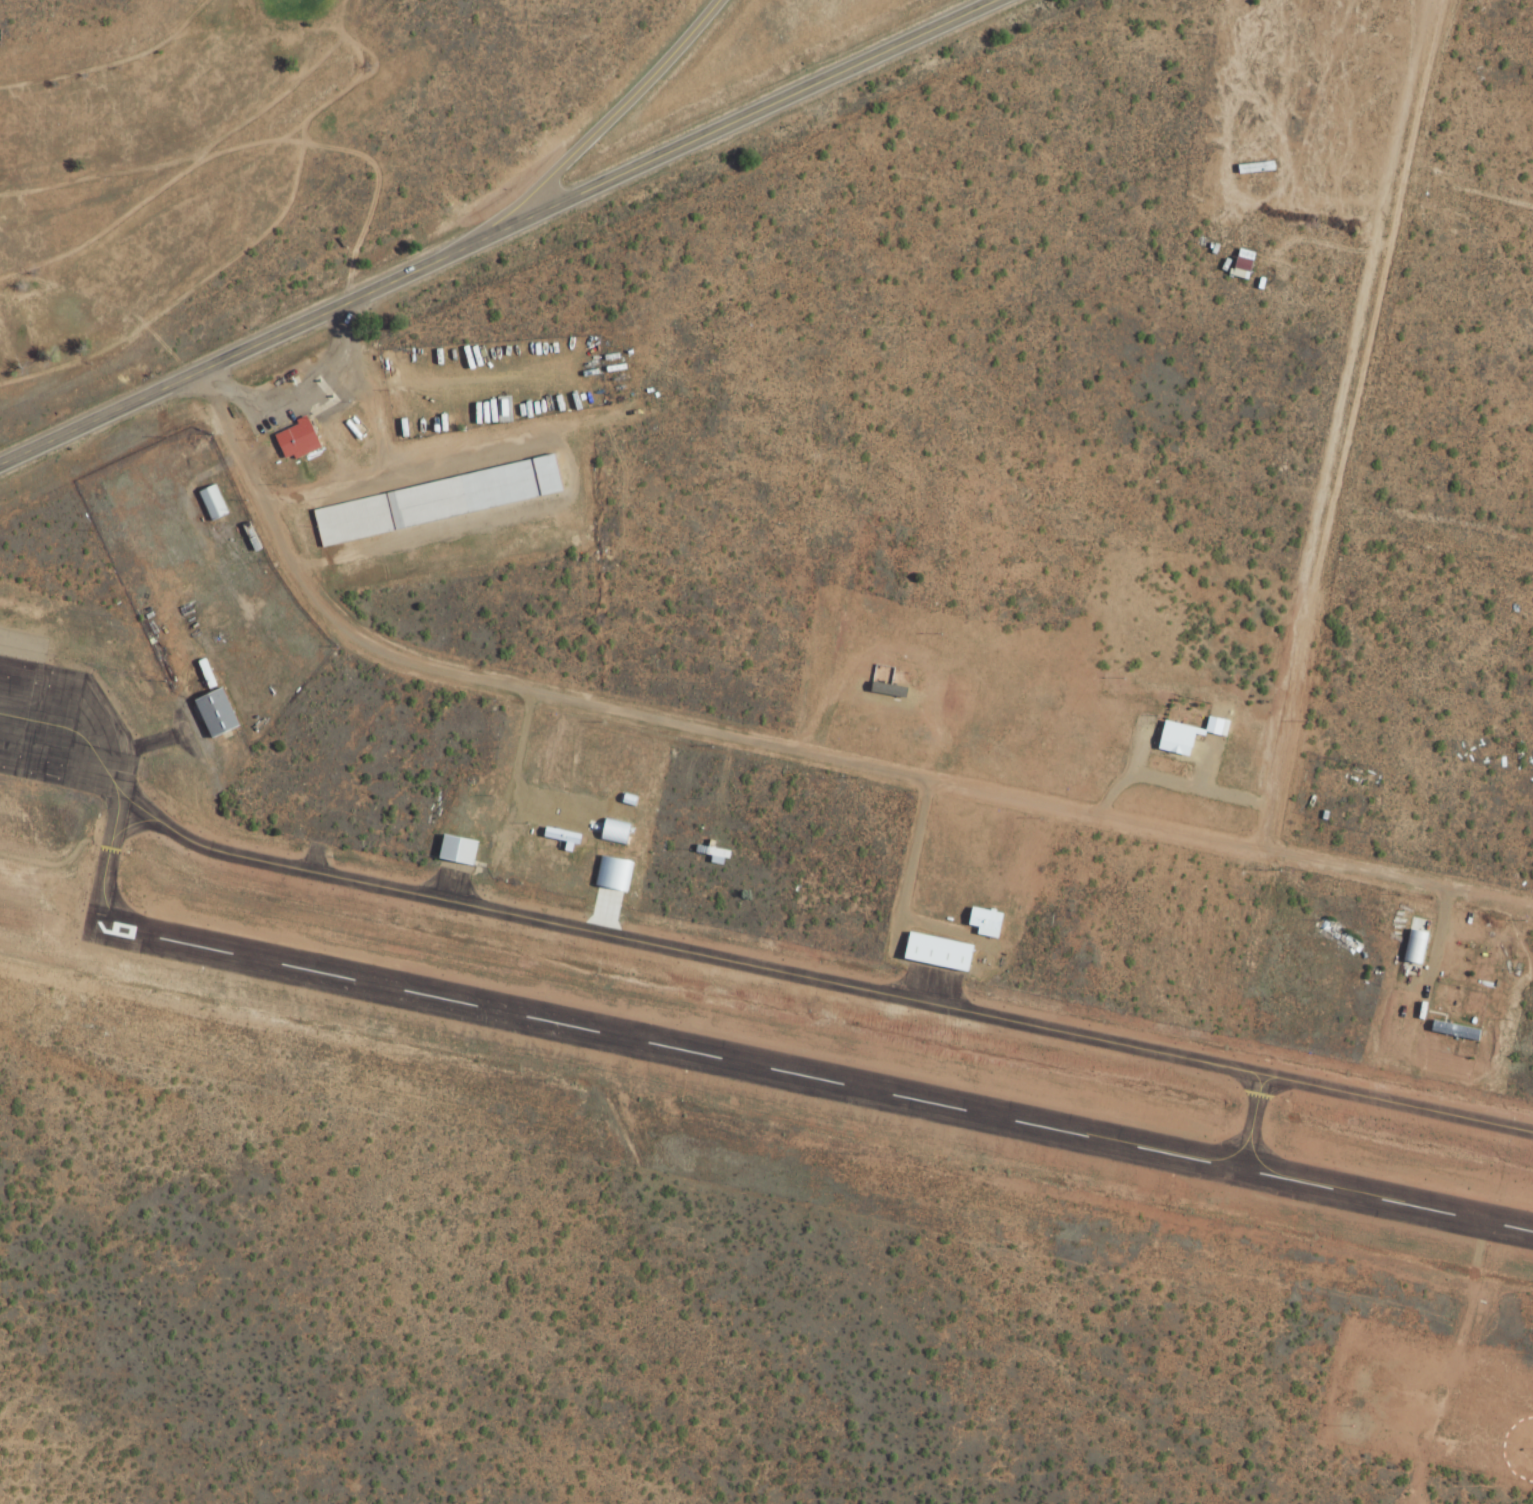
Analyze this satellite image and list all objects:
road: (725, 125)
road: (592, 133)
park: (185, 167)
building: (1461, 220)
building: (1241, 264)
road: (226, 358)
building: (293, 439)
building: (436, 500)
building: (211, 502)
road: (22, 641)
building: (889, 671)
building: (961, 686)
building: (213, 713)
airport apron: (77, 731)
building: (1174, 743)
road: (788, 744)
building: (457, 850)
building: (714, 850)
airport apron: (451, 877)
building: (983, 922)
building: (938, 953)
airport taxiway: (750, 965)
airport apron: (932, 979)
building: (1457, 1032)
airport runway: (811, 1076)
airport taxiway: (1246, 1121)

